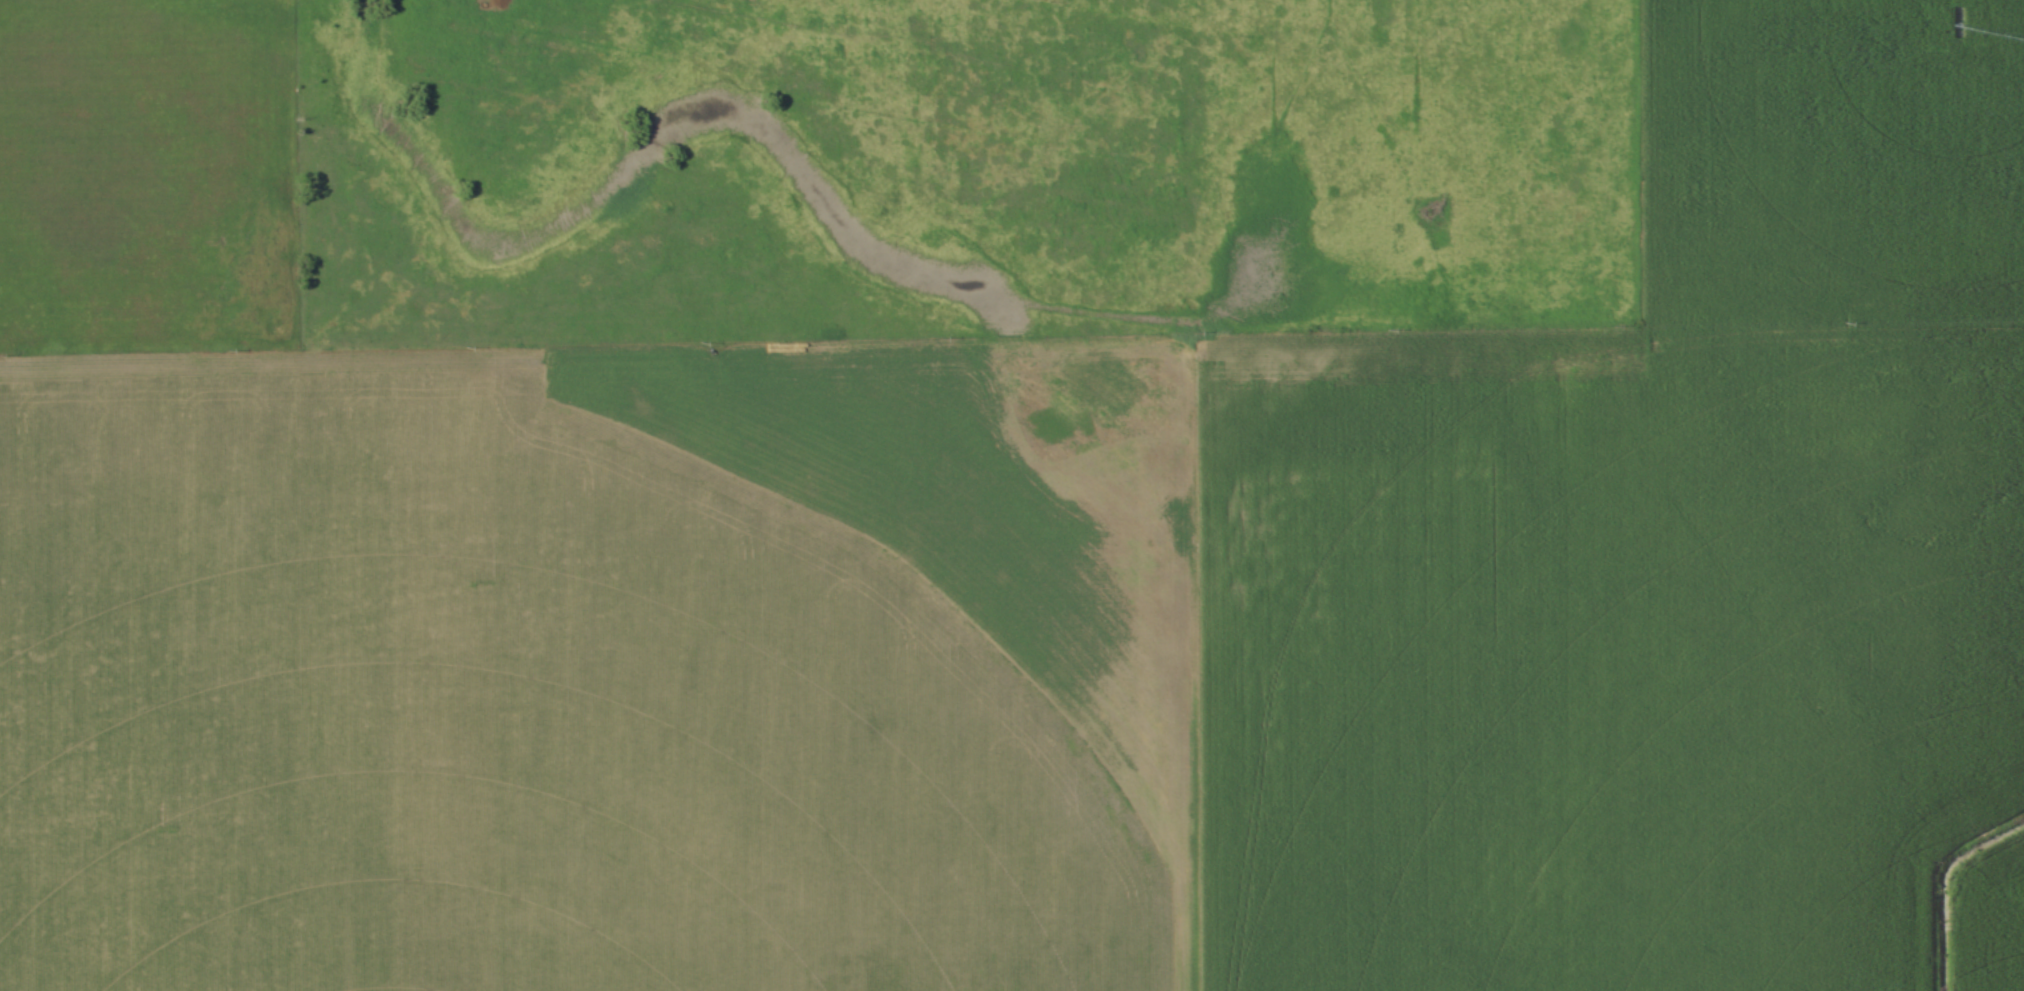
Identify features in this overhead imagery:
crop: (1615, 445)

